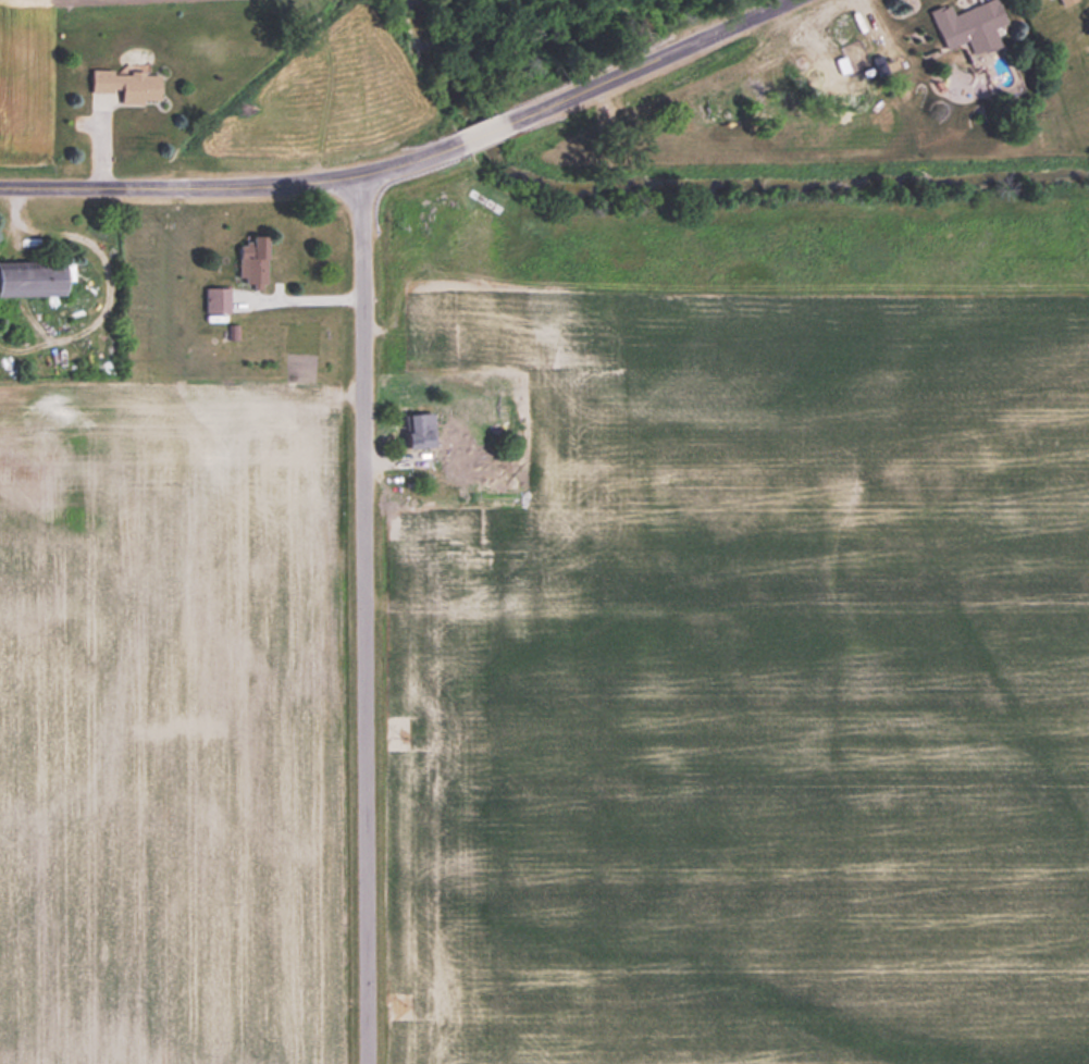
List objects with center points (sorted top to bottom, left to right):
building: (1064, 1)
building: (968, 25)
road: (646, 59)
building: (125, 85)
road: (485, 131)
road: (233, 185)
building: (250, 261)
building: (29, 279)
road: (301, 299)
building: (215, 300)
building: (469, 423)
building: (418, 430)
building: (448, 455)
road: (363, 619)

